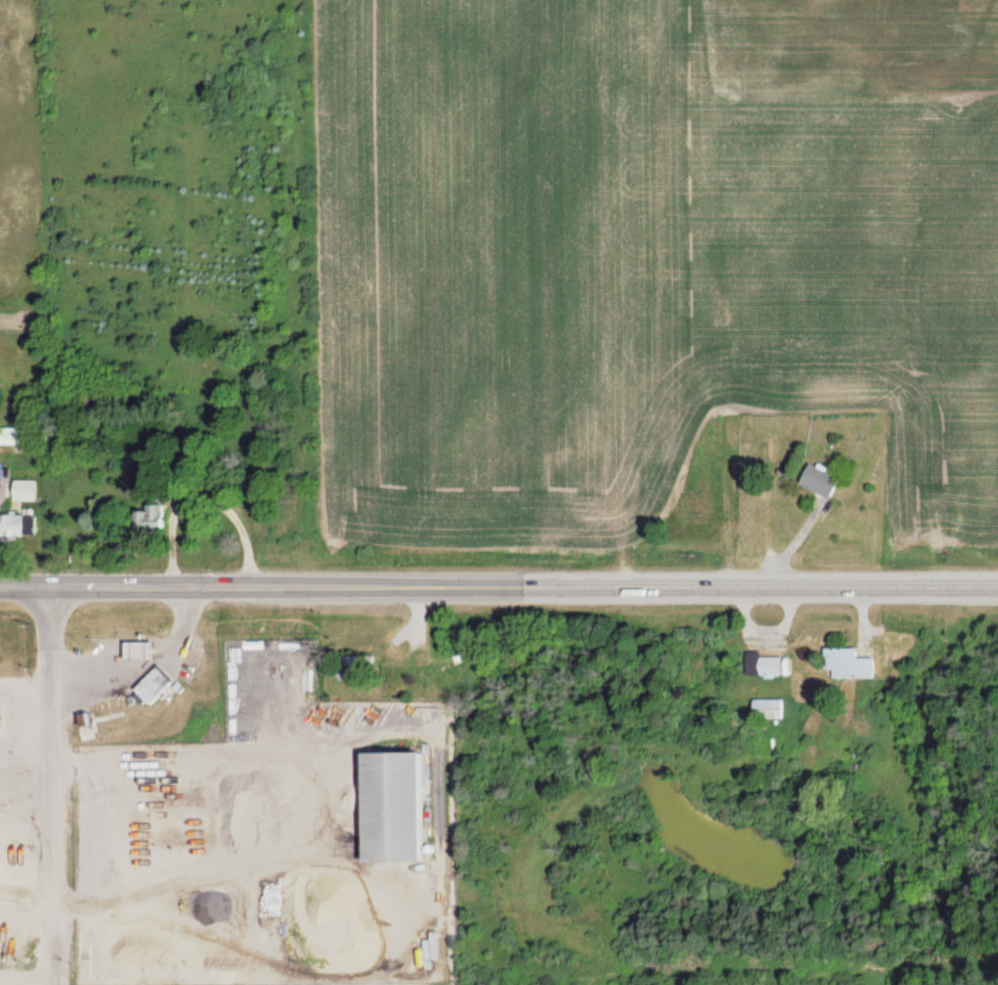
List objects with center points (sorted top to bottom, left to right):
building: (709, 434)
building: (12, 436)
building: (817, 479)
building: (150, 518)
building: (16, 525)
road: (27, 582)
road: (526, 582)
building: (137, 648)
building: (427, 658)
building: (845, 662)
building: (766, 664)
building: (152, 683)
building: (766, 708)
road: (54, 784)
building: (389, 805)

